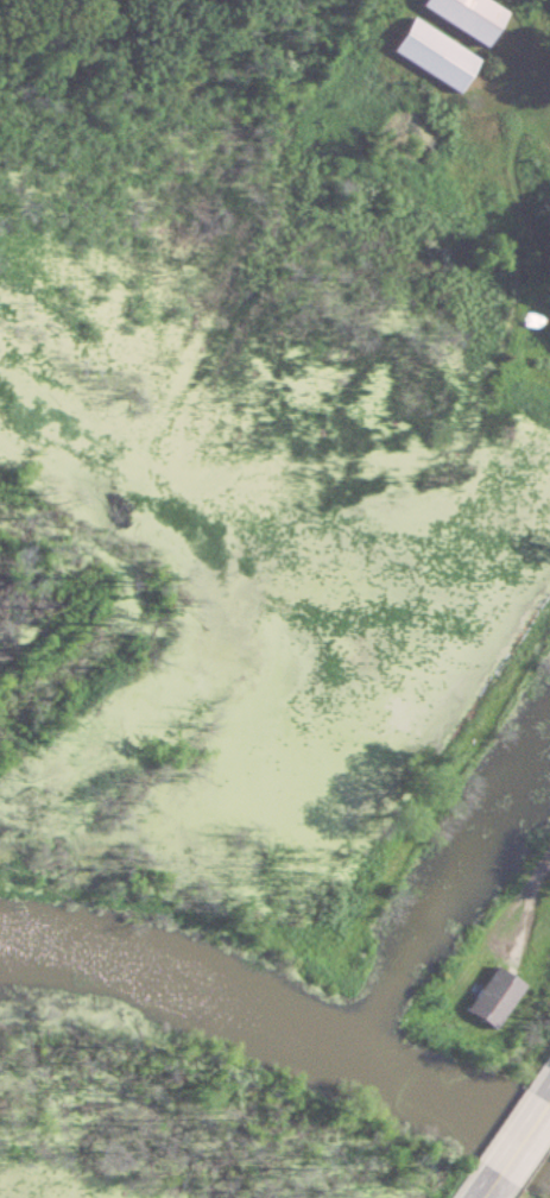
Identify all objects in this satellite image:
building: (466, 15)
building: (430, 55)
building: (530, 320)
road: (531, 913)
building: (497, 996)
river: (285, 1023)
road: (549, 1101)
road: (523, 1139)
road: (491, 1186)

